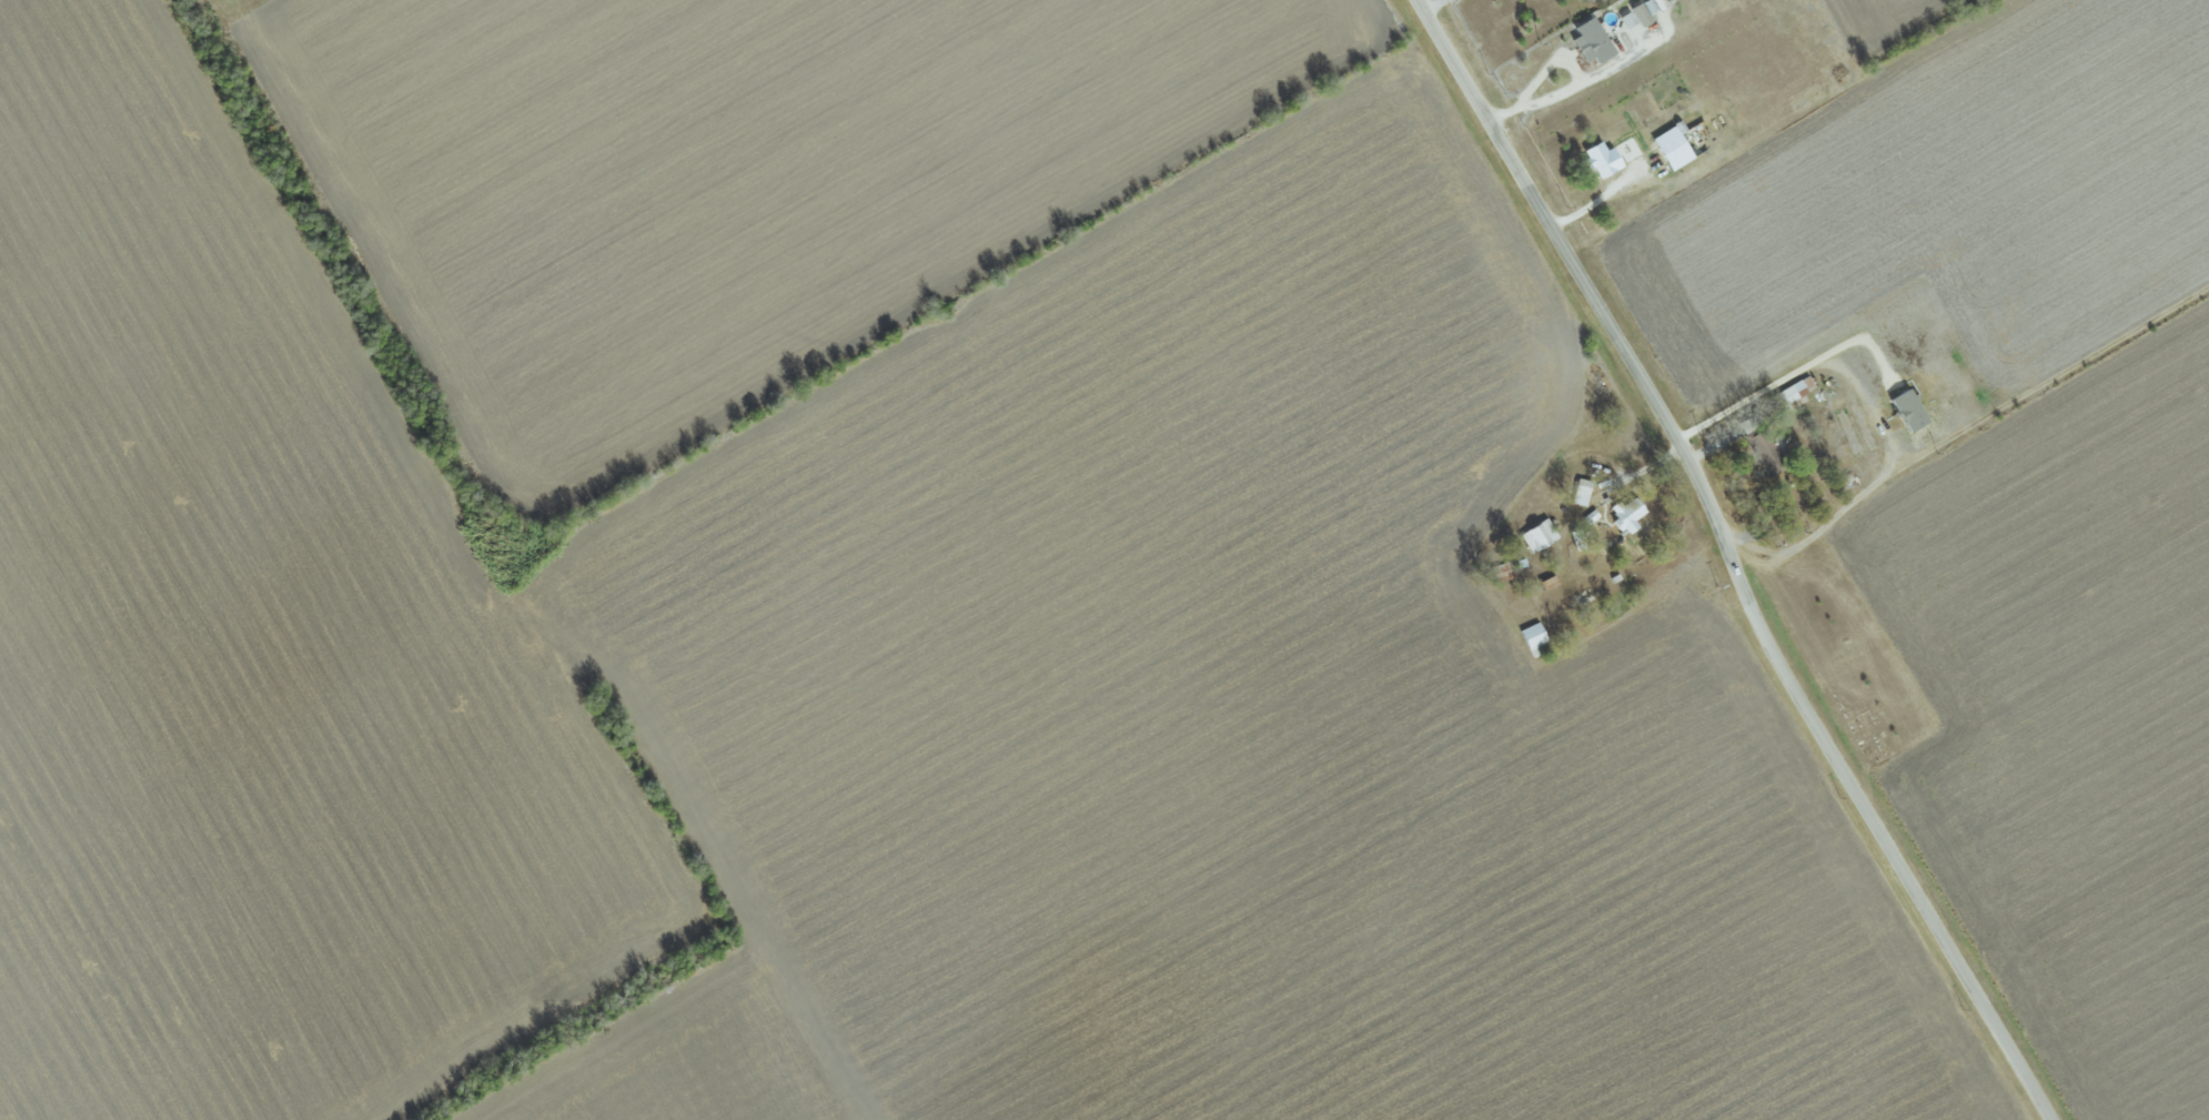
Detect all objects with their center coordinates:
road: (1434, 6)
building: (1638, 14)
building: (1626, 19)
building: (1590, 41)
road: (1543, 67)
road: (1560, 89)
building: (1670, 148)
building: (1600, 160)
road: (1593, 200)
road: (1767, 390)
building: (1794, 391)
building: (1905, 410)
building: (1580, 493)
building: (1625, 515)
building: (1537, 536)
road: (1732, 561)
building: (1533, 639)

